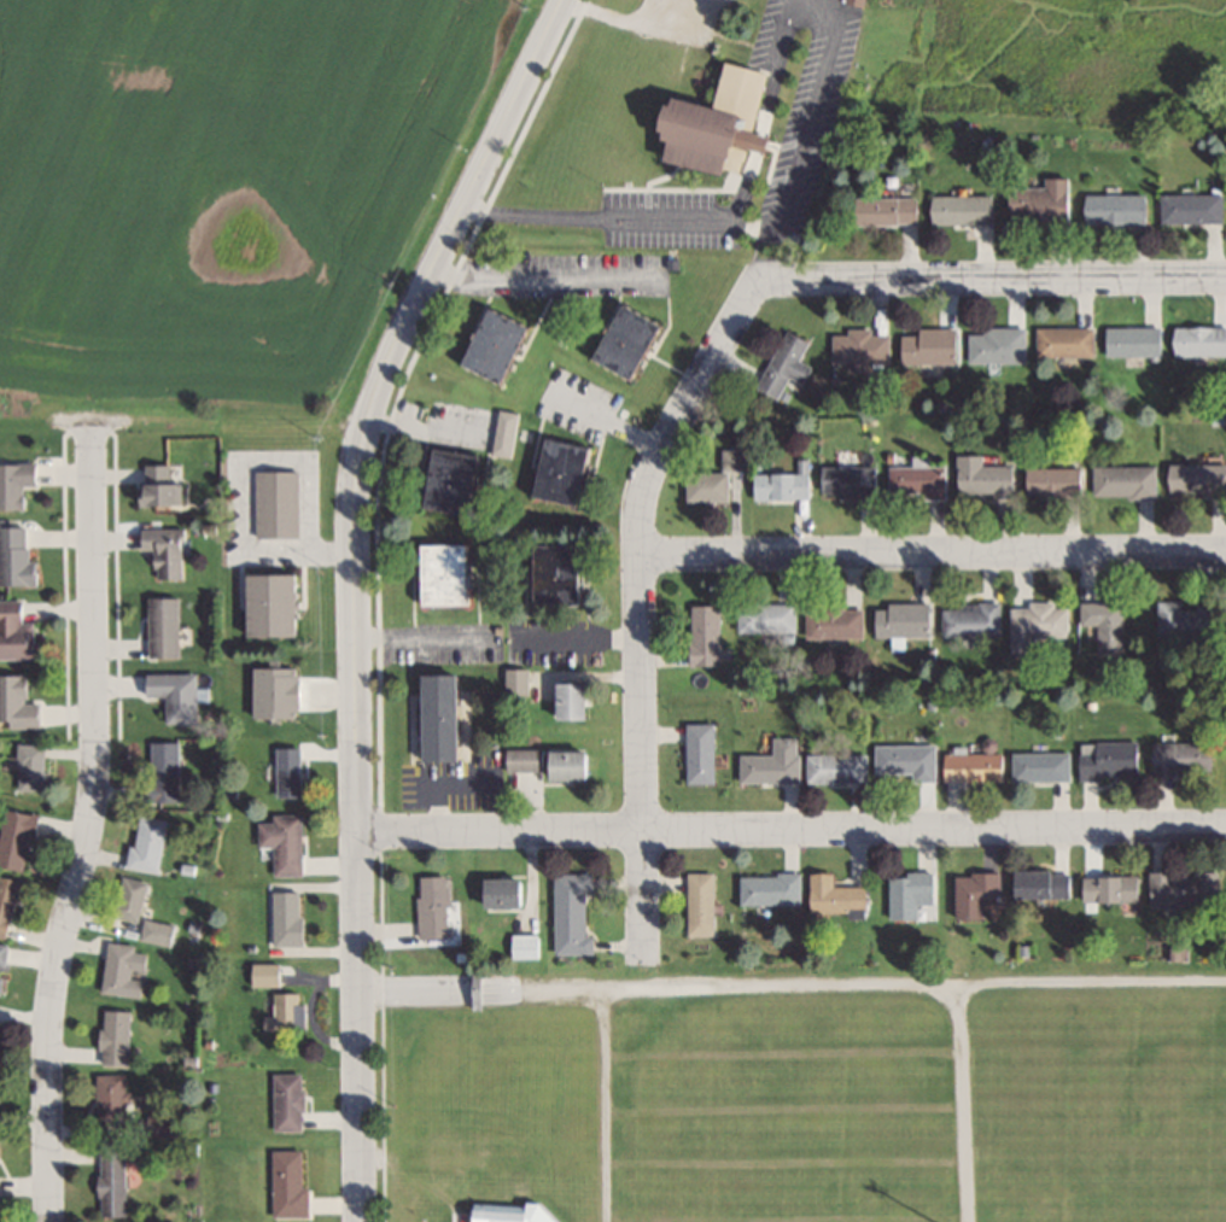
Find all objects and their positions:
building: (860, 1)
road: (637, 24)
building: (722, 123)
crop: (227, 183)
building: (1044, 201)
building: (1119, 207)
building: (1193, 207)
building: (965, 209)
road: (459, 210)
building: (888, 210)
road: (740, 223)
road: (962, 279)
building: (634, 340)
building: (1135, 340)
building: (1201, 340)
building: (1067, 341)
building: (501, 344)
building: (932, 345)
building: (998, 345)
building: (862, 346)
building: (786, 364)
building: (506, 433)
building: (567, 470)
building: (986, 478)
building: (1198, 478)
building: (717, 479)
building: (457, 481)
building: (851, 481)
building: (920, 481)
building: (1057, 481)
building: (1127, 481)
building: (163, 483)
building: (786, 483)
building: (17, 484)
building: (279, 503)
building: (168, 550)
road: (933, 552)
building: (17, 557)
building: (562, 573)
building: (449, 574)
building: (276, 604)
building: (767, 618)
building: (973, 619)
building: (1190, 619)
building: (904, 620)
building: (836, 621)
building: (1107, 624)
building: (1038, 625)
building: (165, 626)
building: (18, 631)
building: (706, 635)
road: (578, 636)
road: (641, 639)
building: (518, 682)
building: (278, 692)
building: (177, 695)
building: (577, 700)
building: (18, 702)
building: (445, 717)
building: (701, 753)
building: (525, 759)
building: (1111, 759)
building: (1185, 759)
building: (909, 761)
building: (773, 762)
building: (572, 764)
building: (1043, 765)
building: (31, 766)
building: (975, 766)
building: (839, 768)
building: (165, 771)
building: (291, 772)
road: (89, 820)
road: (356, 822)
road: (792, 829)
building: (17, 838)
building: (286, 842)
building: (148, 843)
building: (1045, 883)
building: (771, 888)
building: (1111, 888)
building: (1186, 888)
building: (507, 893)
building: (913, 894)
building: (980, 895)
building: (839, 896)
building: (132, 898)
building: (8, 902)
building: (702, 904)
building: (434, 906)
building: (576, 913)
building: (290, 919)
building: (158, 931)
building: (527, 945)
building: (4, 954)
building: (125, 969)
building: (268, 975)
building: (2, 983)
road: (793, 984)
building: (286, 1011)
building: (116, 1036)
park: (817, 1084)
building: (112, 1097)
building: (290, 1101)
road: (958, 1103)
building: (159, 1124)
building: (113, 1180)
building: (291, 1183)
building: (516, 1212)

